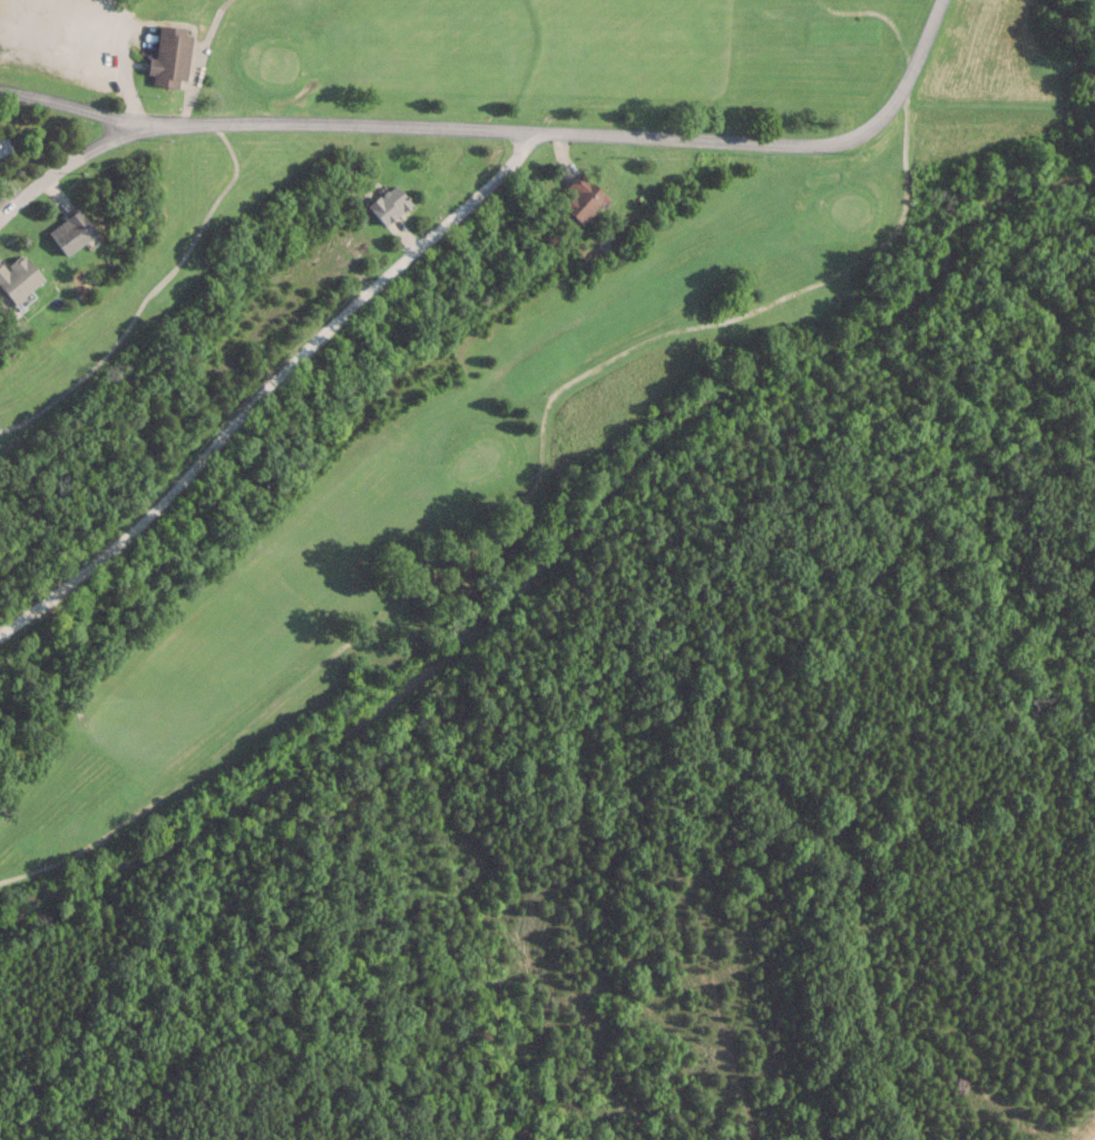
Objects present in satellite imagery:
building: (166, 56)
road: (126, 79)
road: (192, 87)
road: (59, 103)
road: (569, 134)
road: (59, 170)
building: (579, 197)
building: (385, 203)
building: (67, 232)
building: (14, 276)
road: (270, 384)

